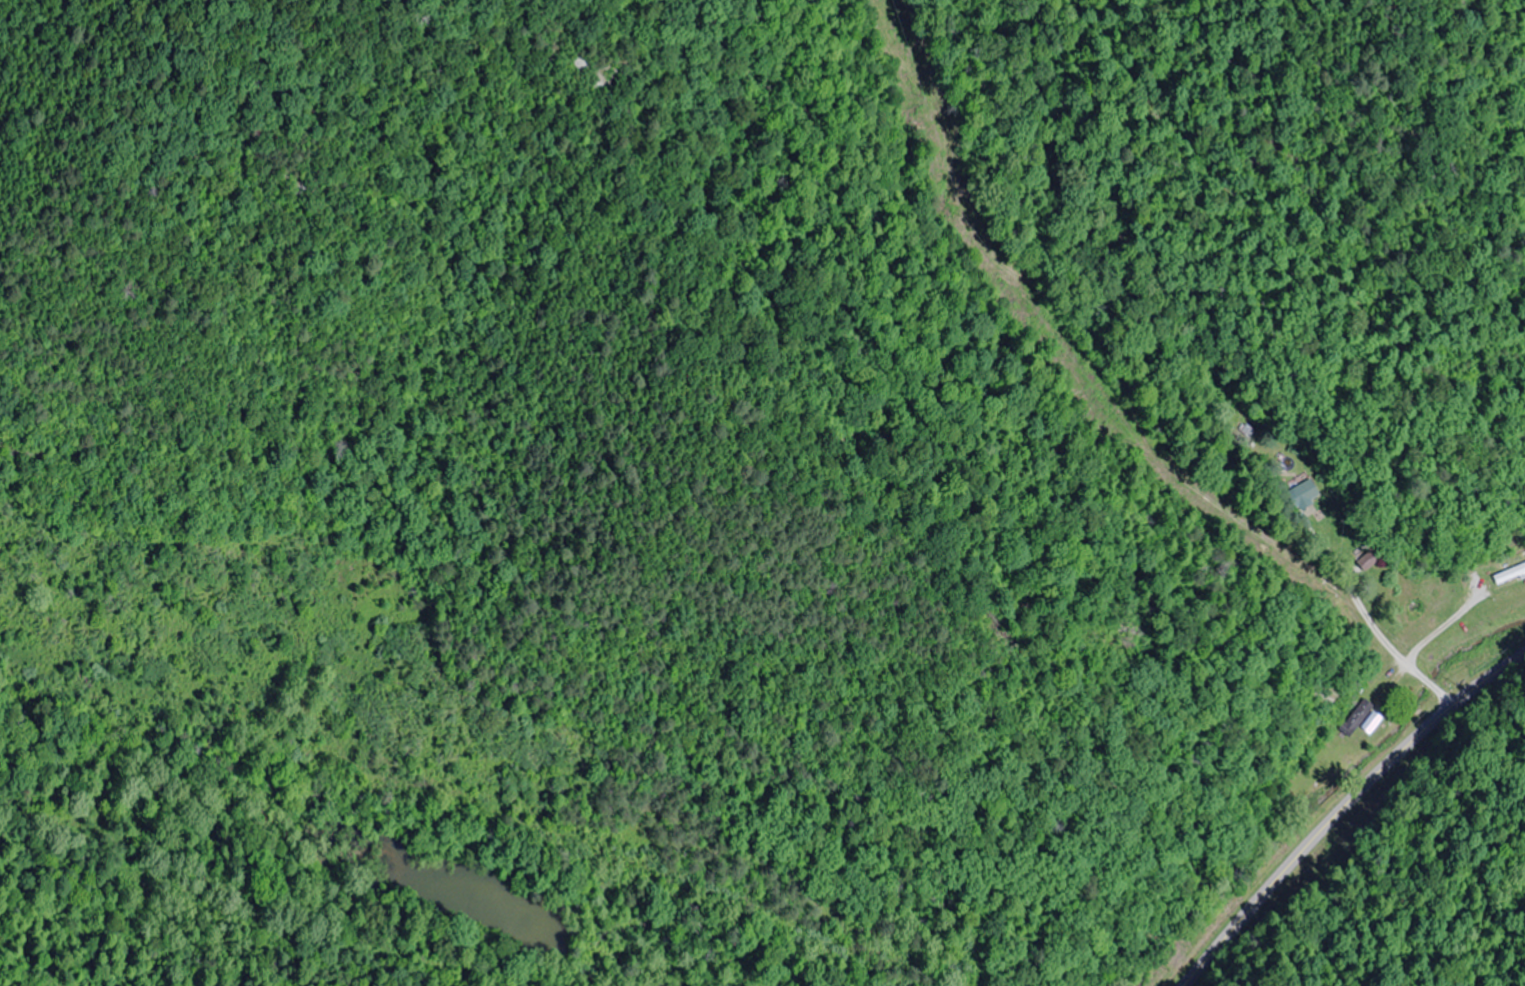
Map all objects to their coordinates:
building: (1305, 491)
road: (1343, 808)

